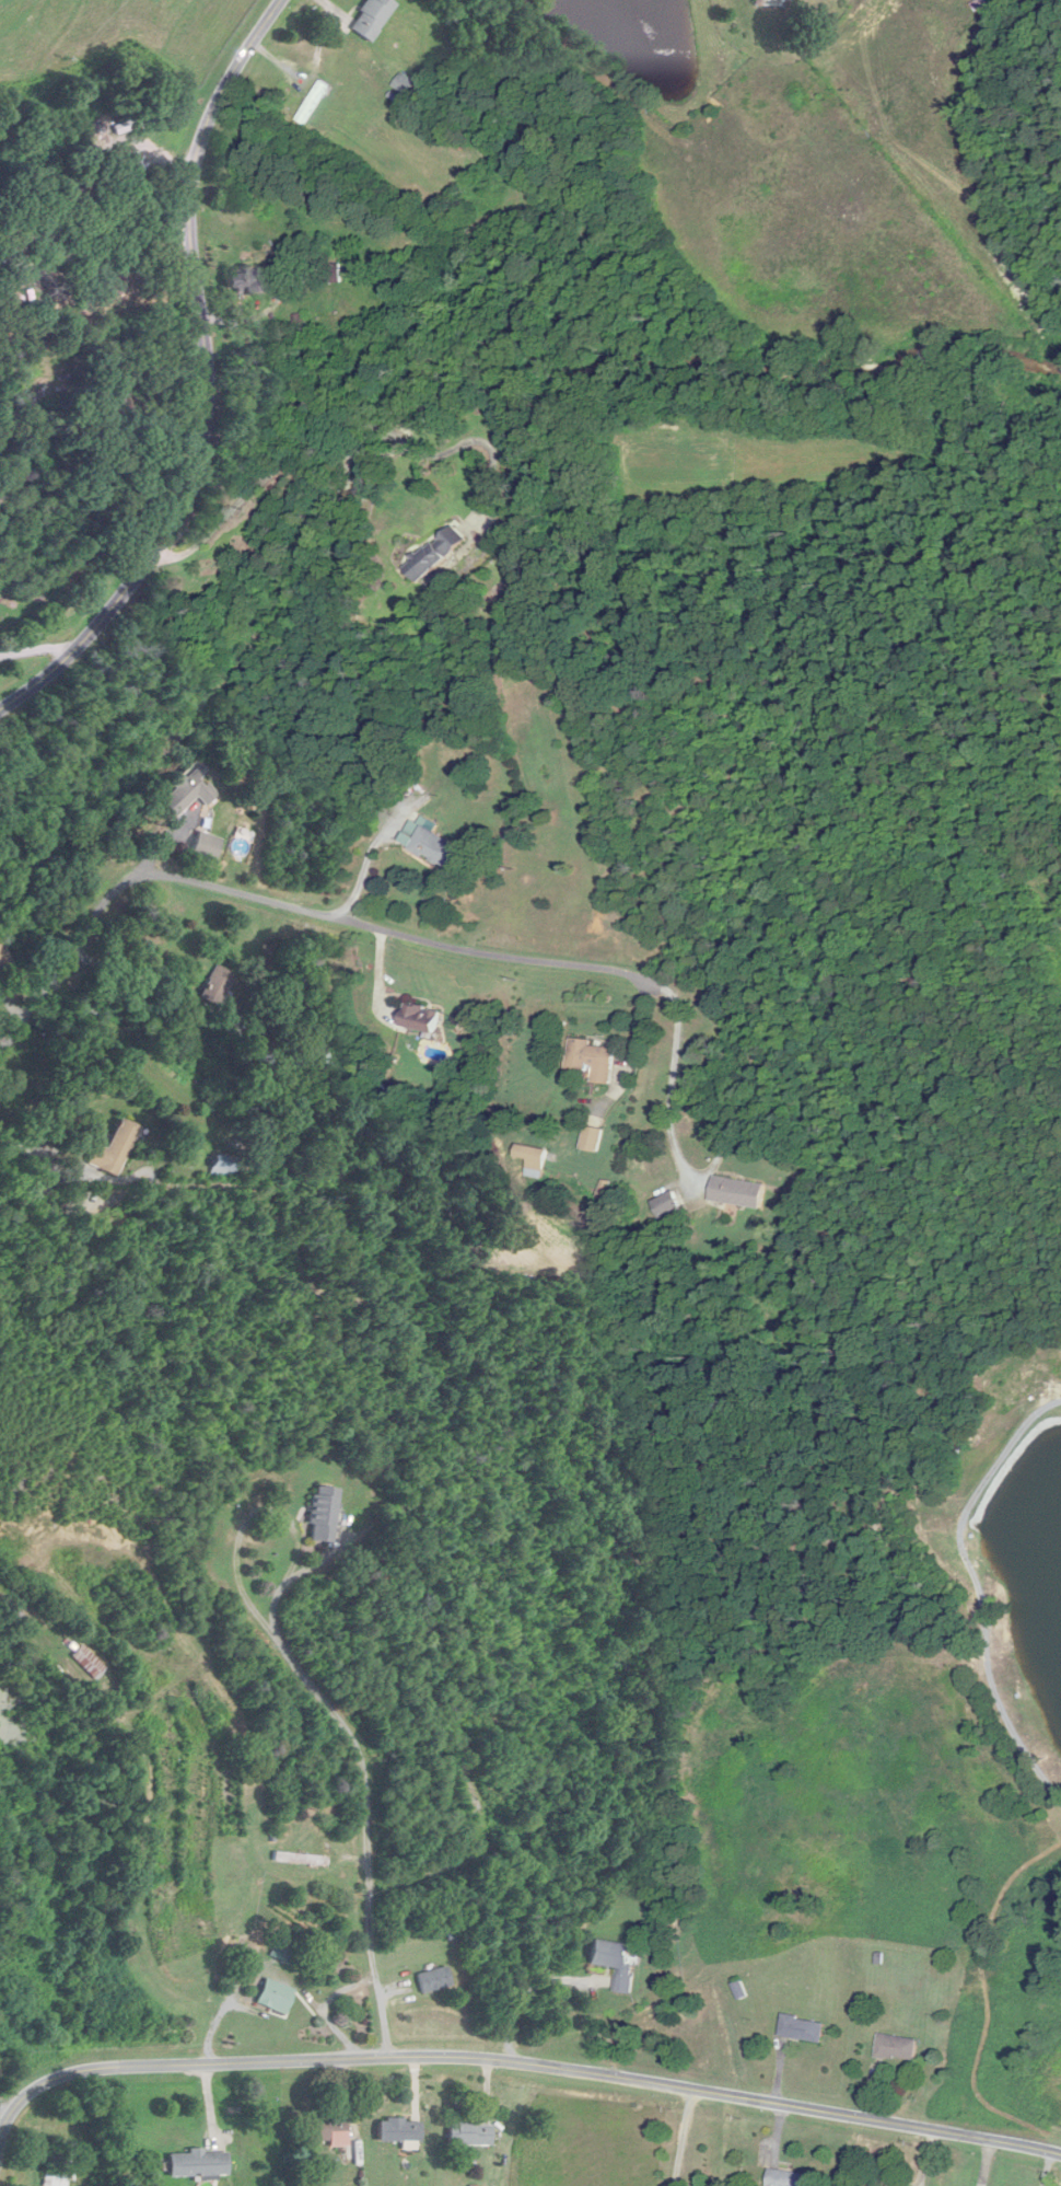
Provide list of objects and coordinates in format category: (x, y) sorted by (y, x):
building: (371, 16)
building: (312, 102)
building: (139, 122)
building: (82, 189)
building: (32, 233)
road: (118, 245)
building: (334, 274)
building: (244, 279)
building: (109, 287)
road: (209, 381)
road: (349, 420)
building: (434, 554)
road: (38, 648)
building: (189, 790)
building: (430, 845)
building: (208, 848)
road: (363, 874)
road: (291, 909)
road: (132, 976)
building: (217, 986)
building: (422, 1019)
building: (592, 1061)
road: (671, 1088)
building: (592, 1140)
building: (115, 1149)
road: (31, 1153)
building: (534, 1160)
building: (223, 1167)
building: (736, 1192)
building: (668, 1207)
road: (266, 1513)
building: (323, 1515)
road: (319, 1561)
building: (90, 1662)
building: (479, 1777)
road: (369, 1821)
building: (300, 1859)
building: (615, 1962)
building: (434, 1980)
road: (522, 1992)
building: (276, 1997)
building: (802, 2028)
building: (896, 2047)
road: (520, 2069)
road: (3, 2110)
building: (326, 2129)
building: (400, 2129)
building: (470, 2132)
road: (684, 2139)
building: (198, 2163)
building: (57, 2171)
building: (786, 2177)
building: (312, 2183)
building: (873, 2185)

